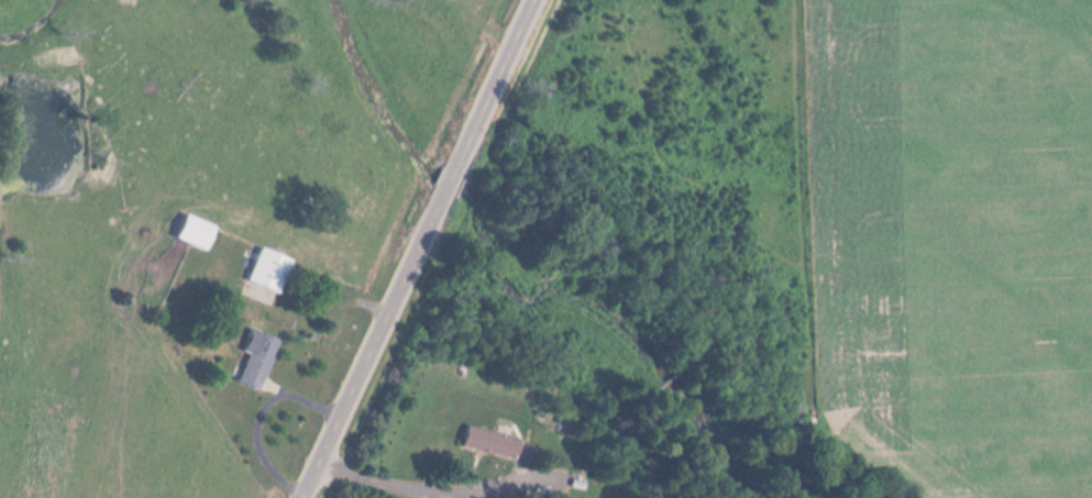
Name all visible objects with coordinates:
building: (194, 232)
road: (407, 248)
building: (268, 270)
building: (257, 362)
building: (520, 457)

